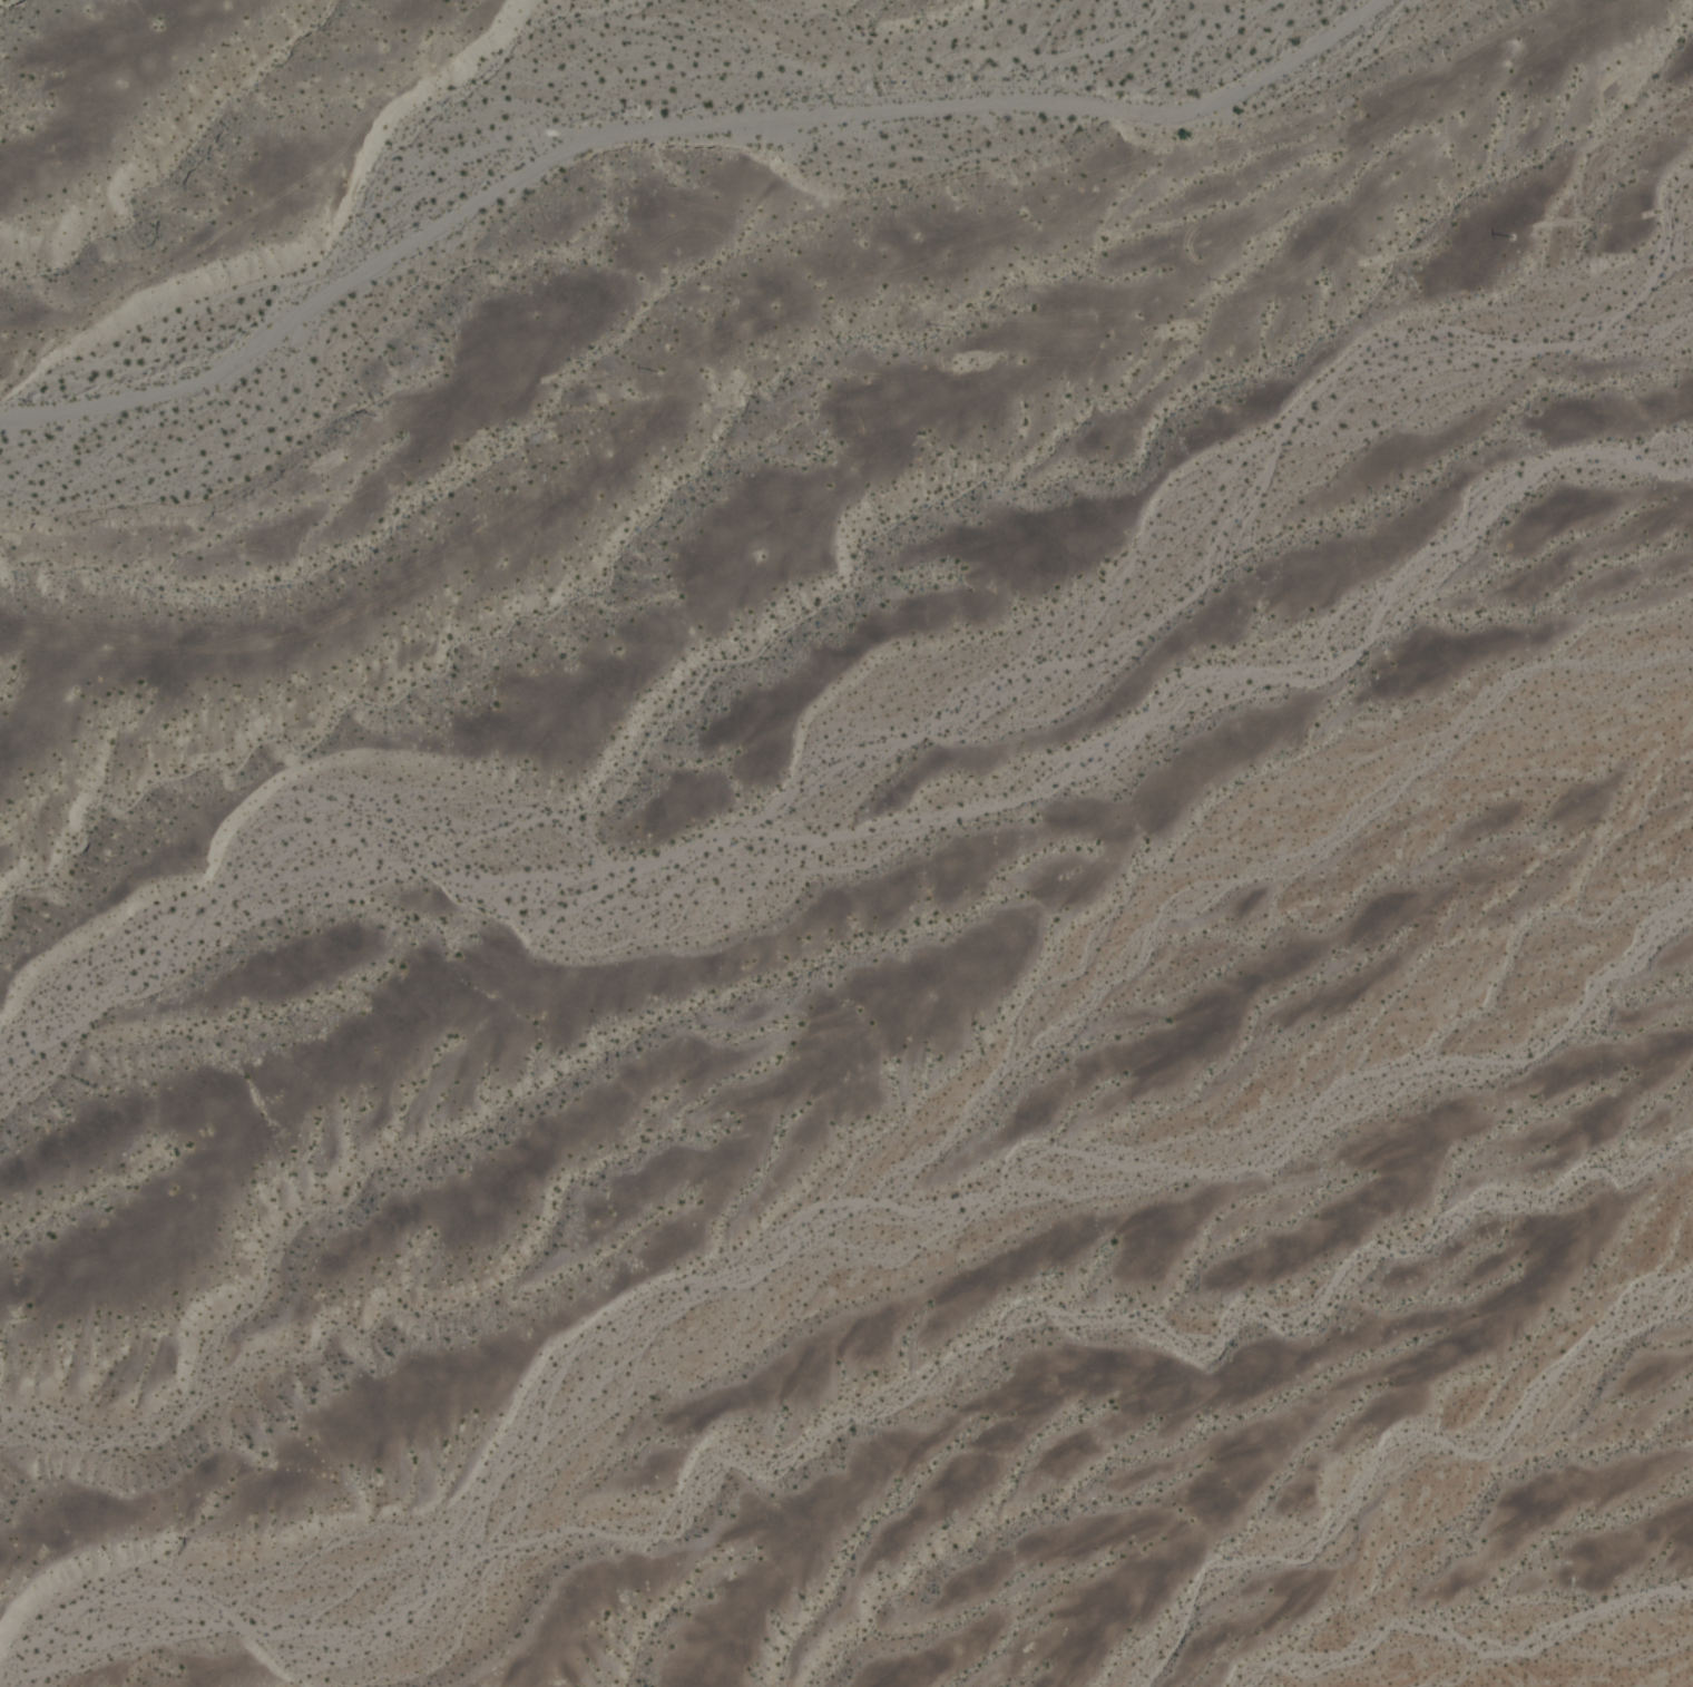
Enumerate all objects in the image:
road: (669, 127)

